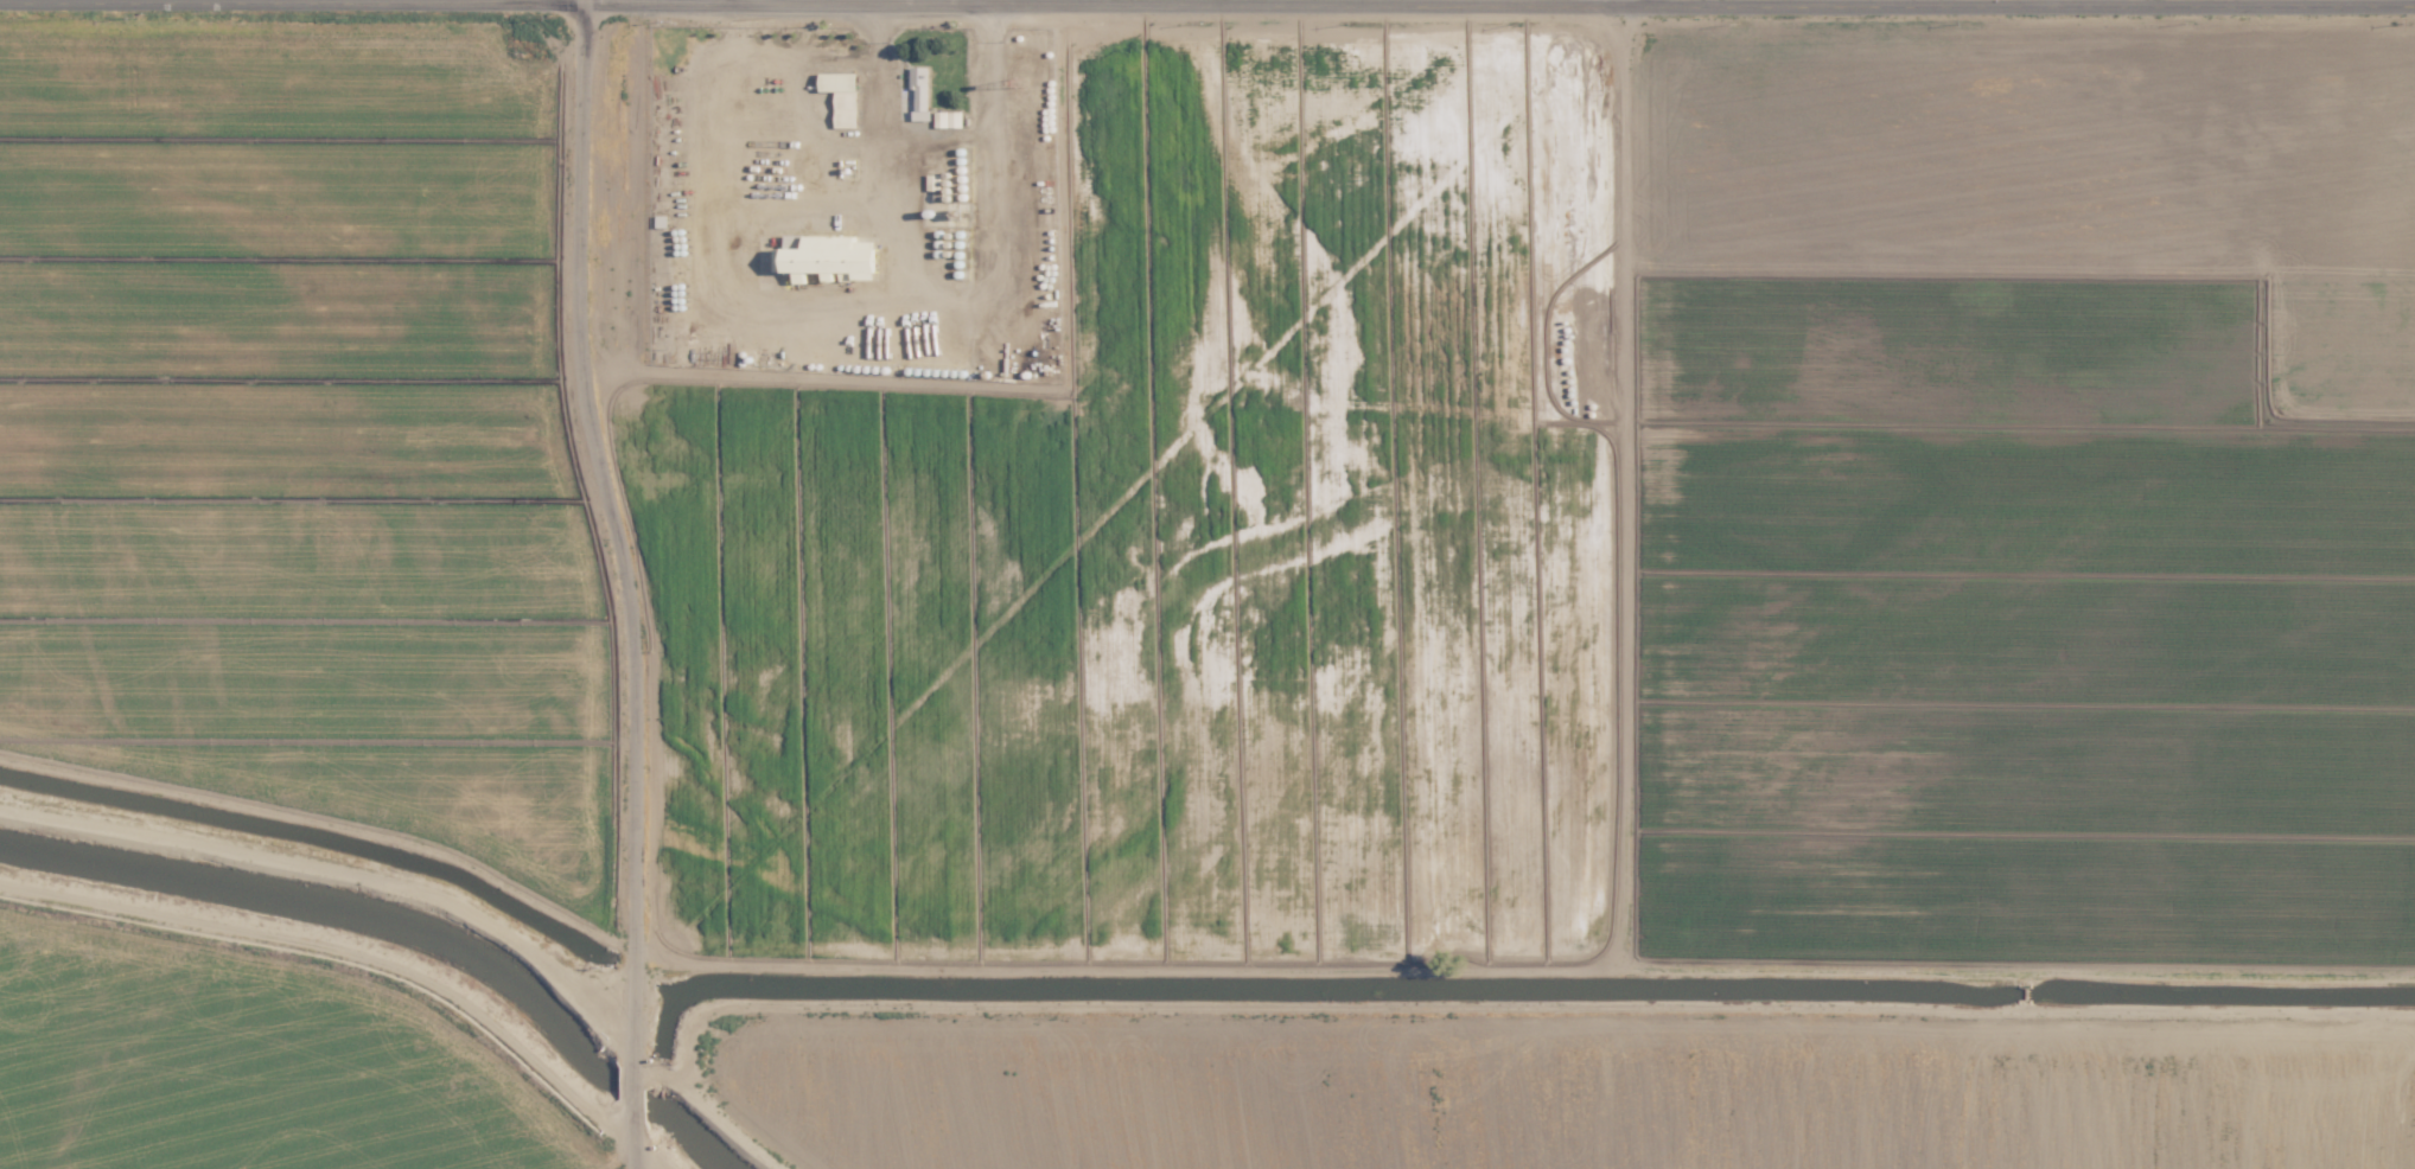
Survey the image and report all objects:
road: (1623, 4)
road: (1206, 5)
building: (945, 119)
building: (828, 257)
road: (630, 582)
road: (329, 856)
road: (348, 946)

